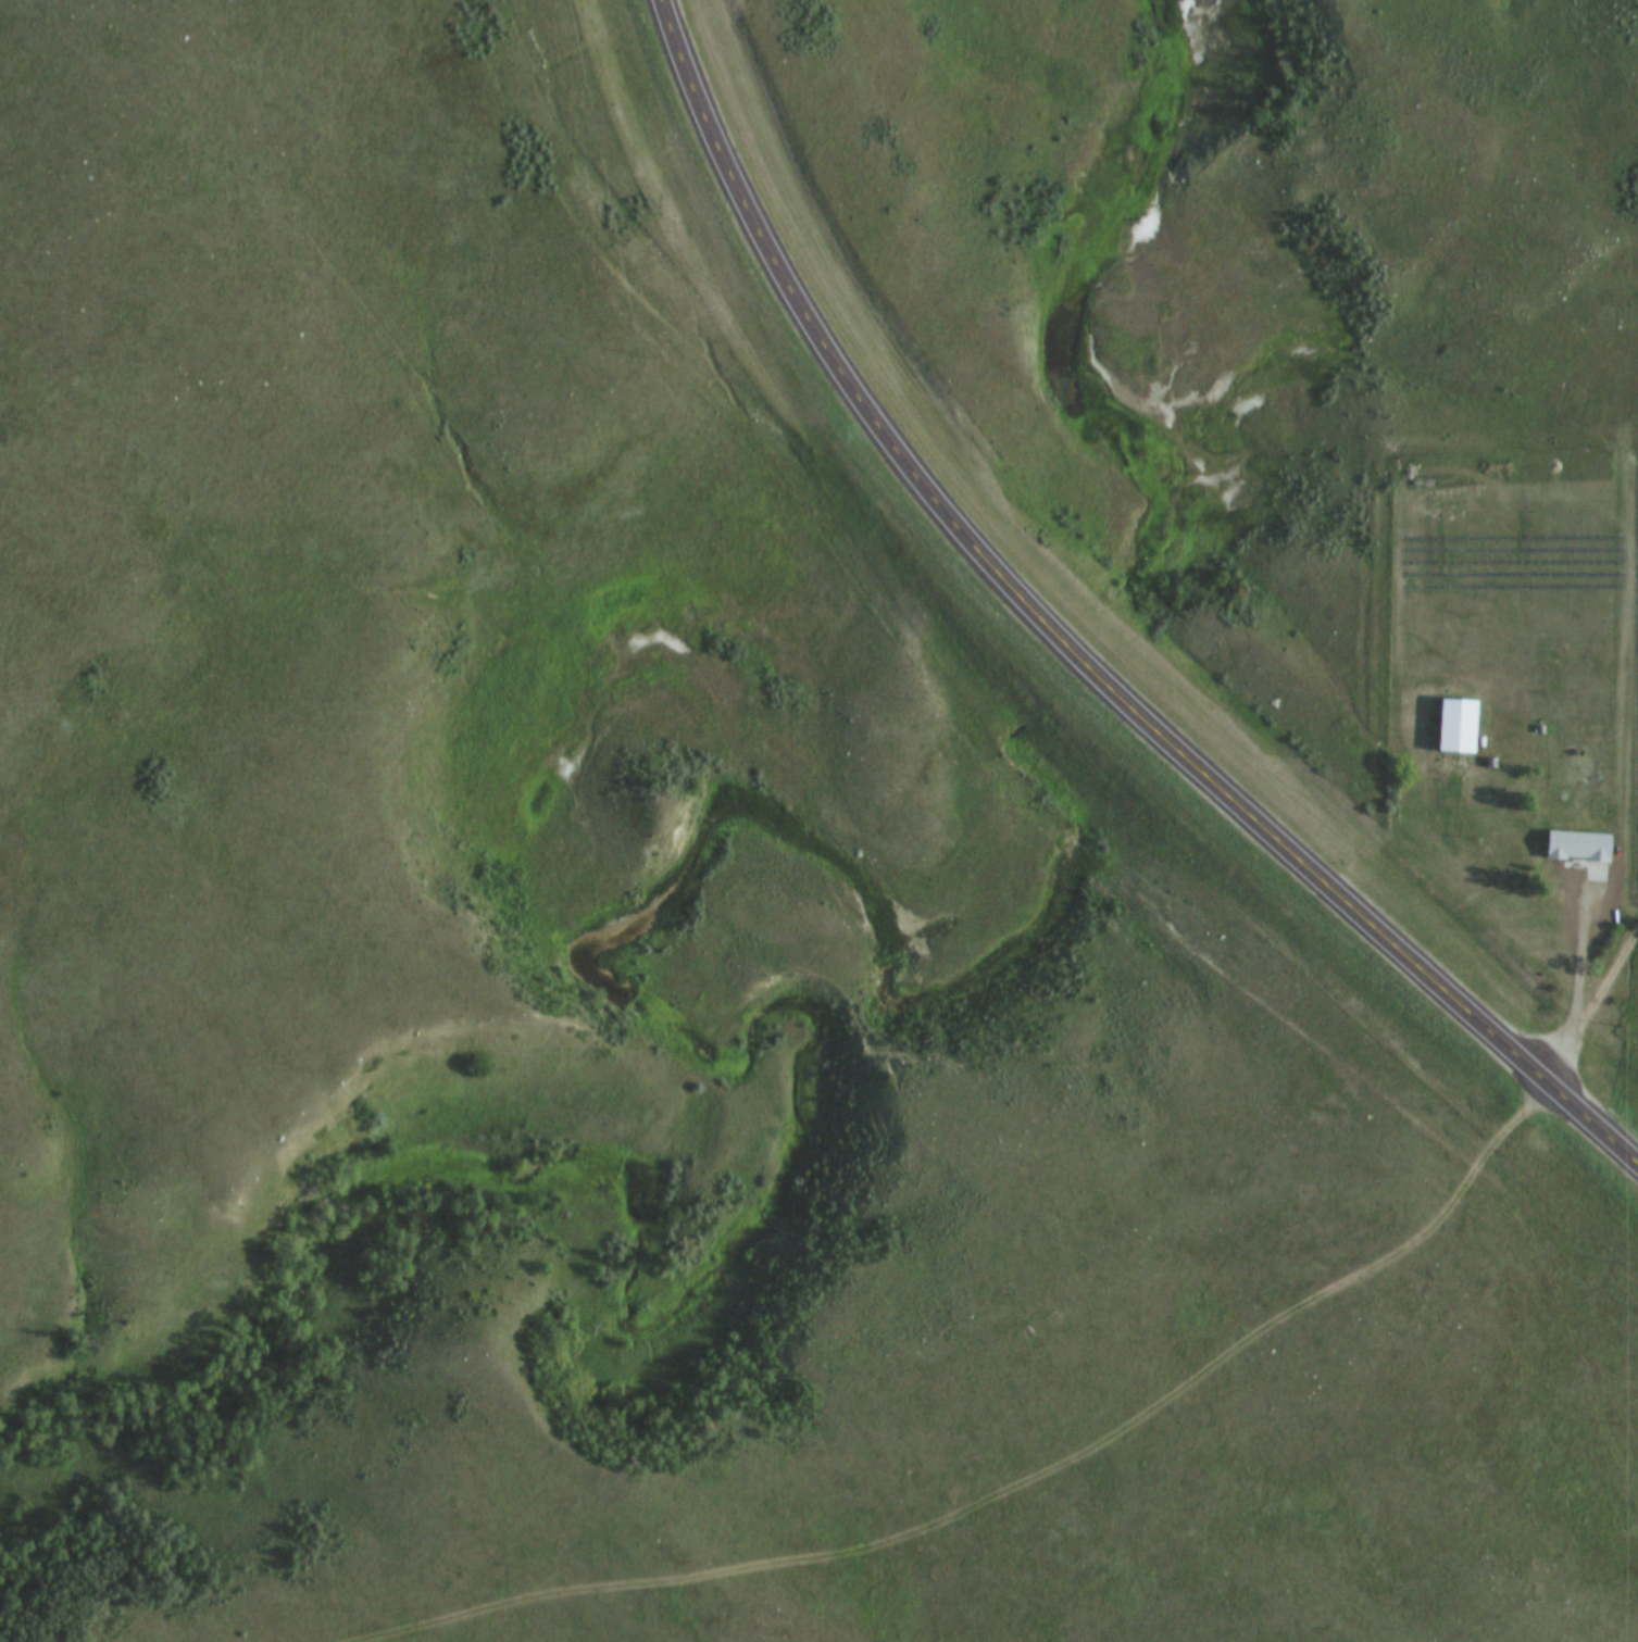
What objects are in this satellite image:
road: (1073, 641)
building: (1580, 848)
road: (1583, 982)

